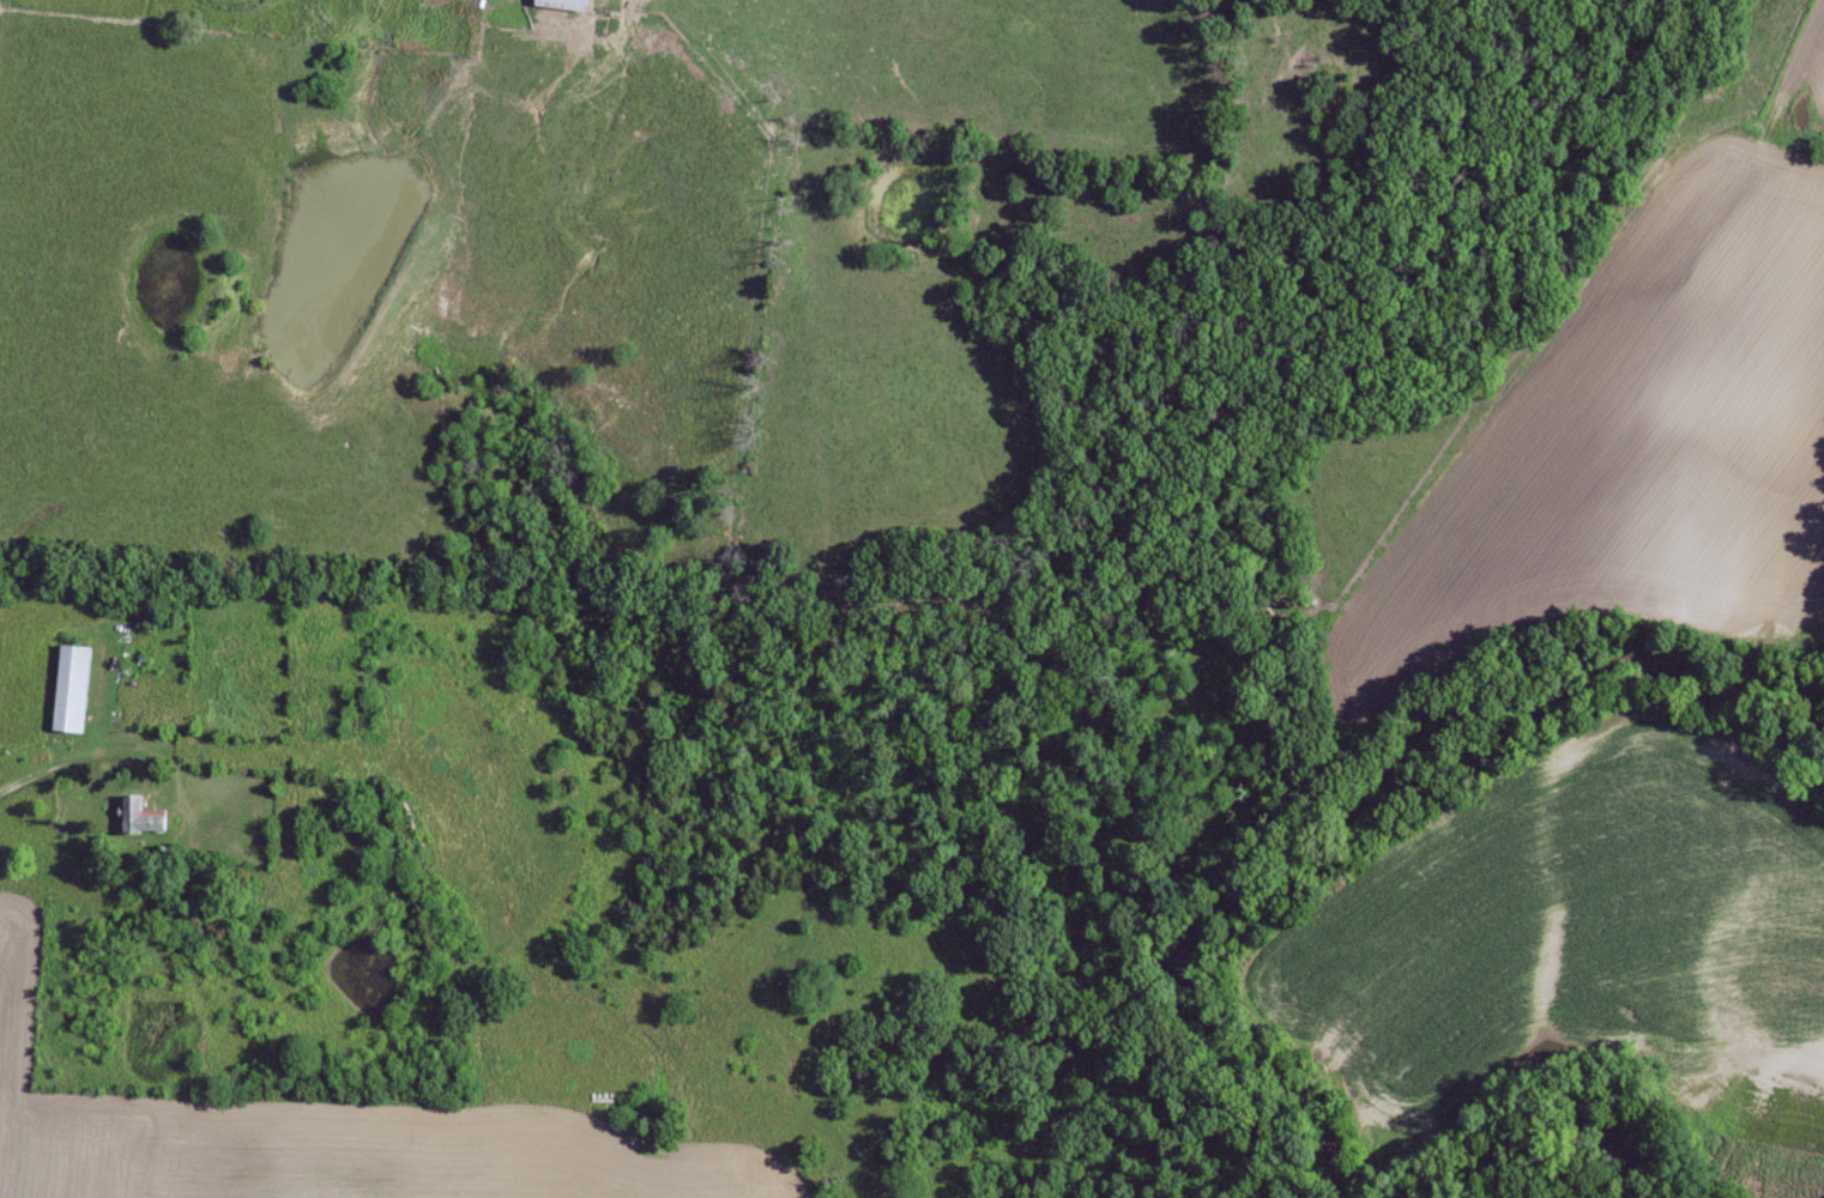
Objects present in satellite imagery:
building: (572, 4)
building: (78, 690)
road: (42, 770)
building: (147, 817)

